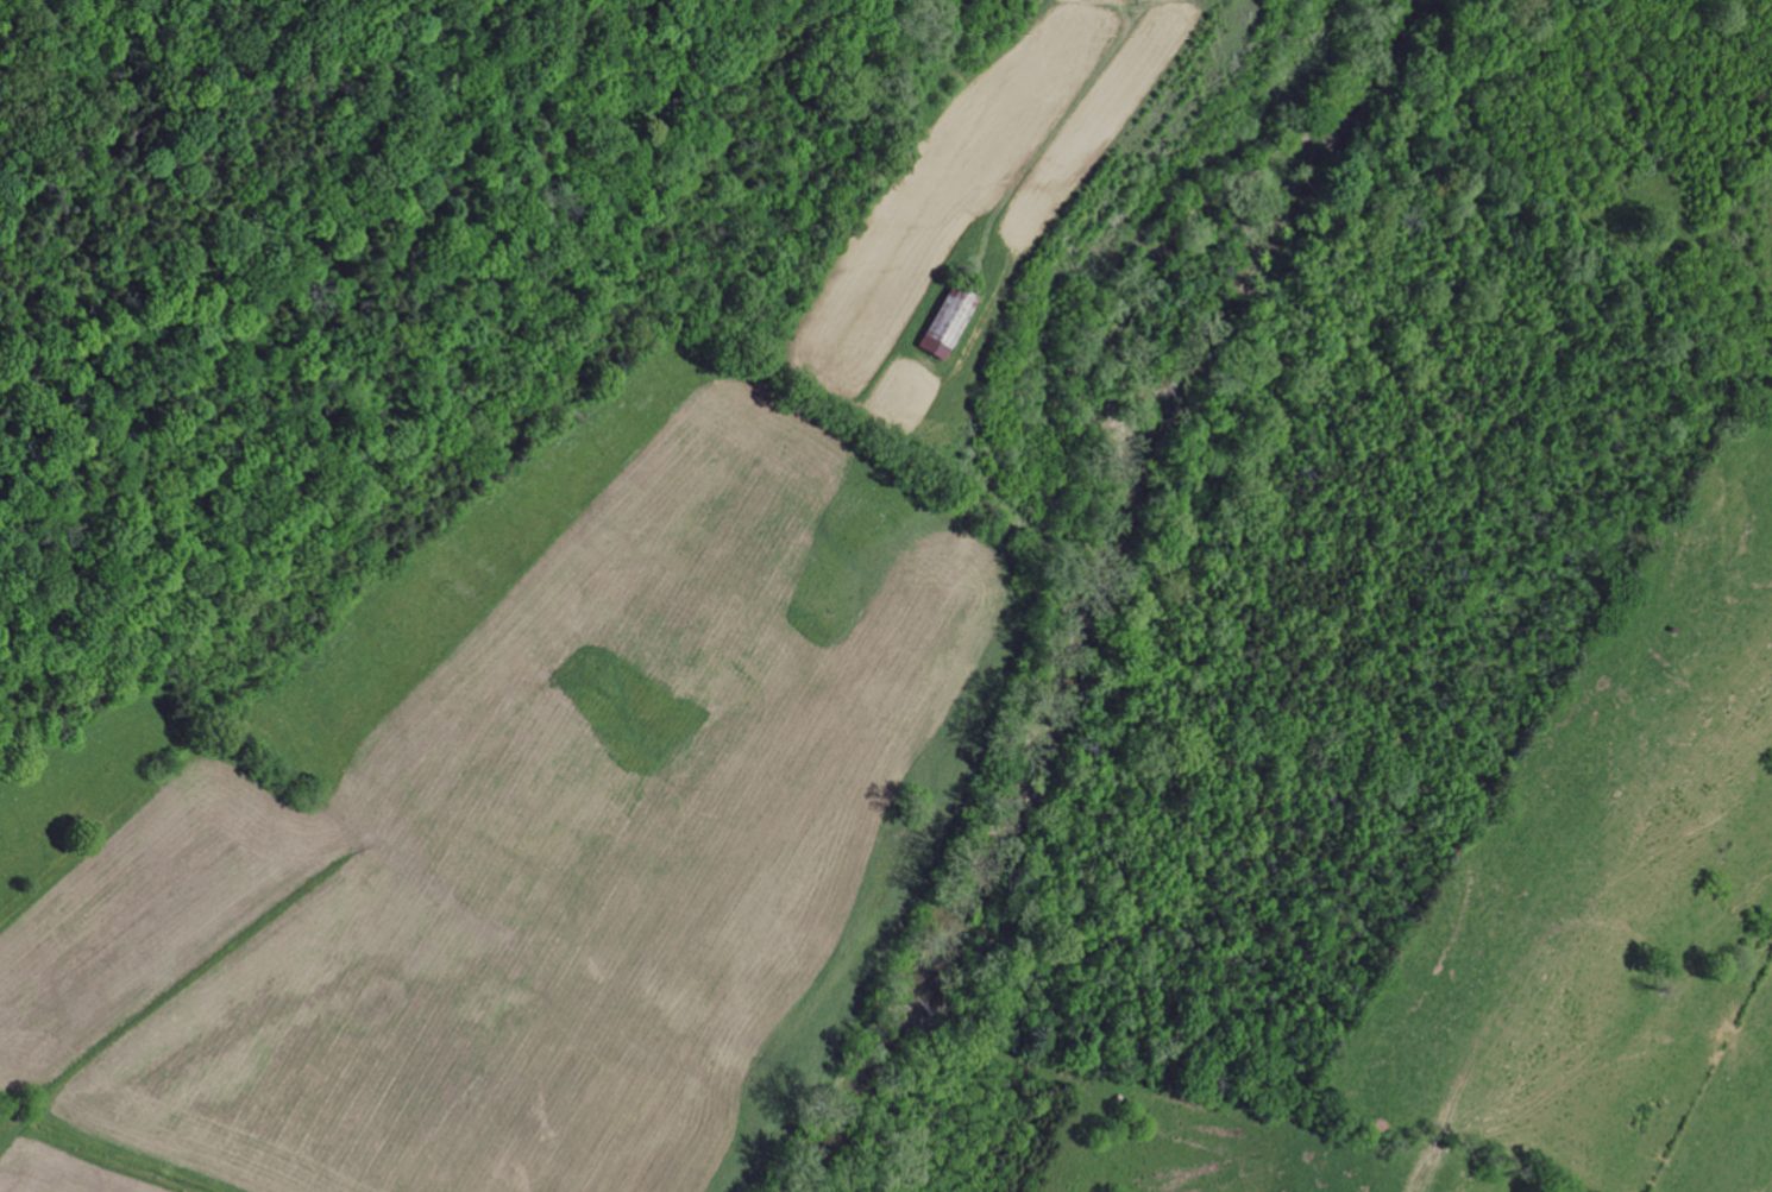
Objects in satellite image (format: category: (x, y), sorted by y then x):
building: (942, 323)

